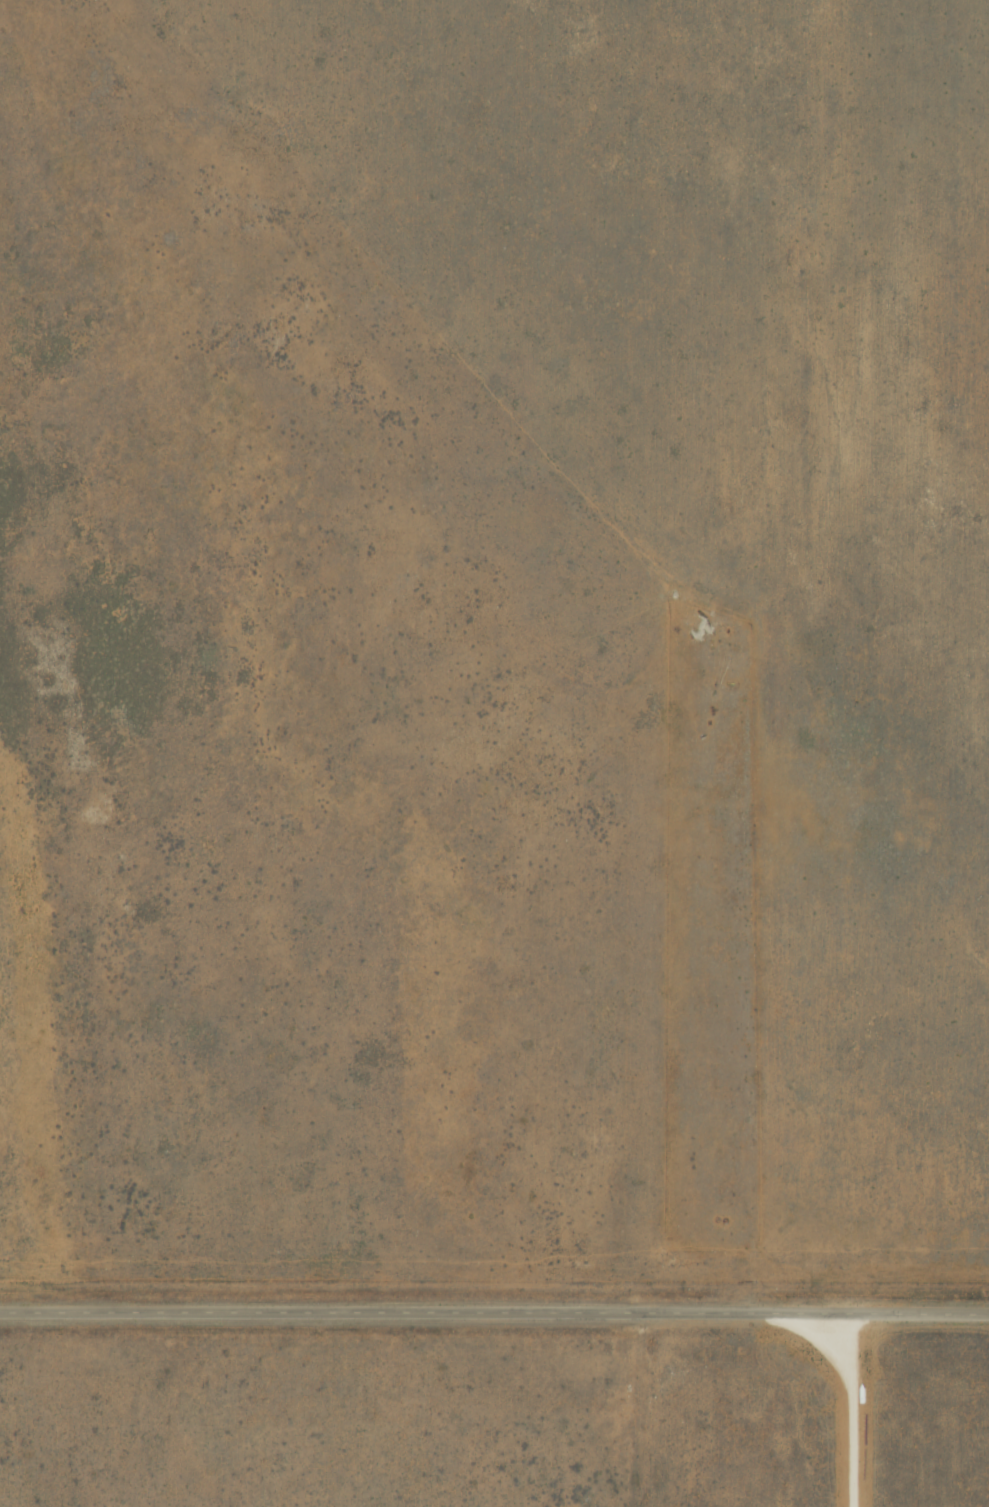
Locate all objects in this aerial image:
road: (494, 1316)

